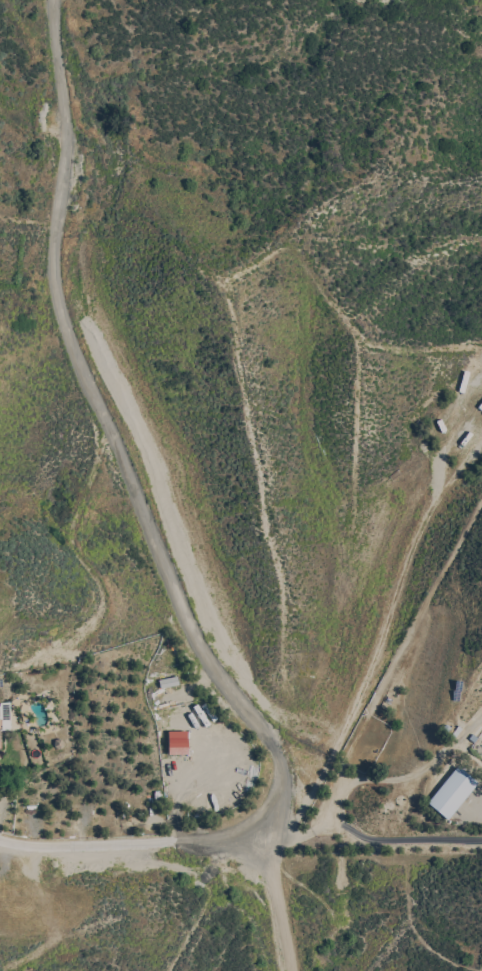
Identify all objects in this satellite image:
road: (137, 497)
building: (169, 681)
building: (390, 696)
building: (4, 717)
road: (473, 727)
building: (452, 730)
building: (453, 792)
road: (479, 798)
road: (134, 839)
road: (371, 839)

